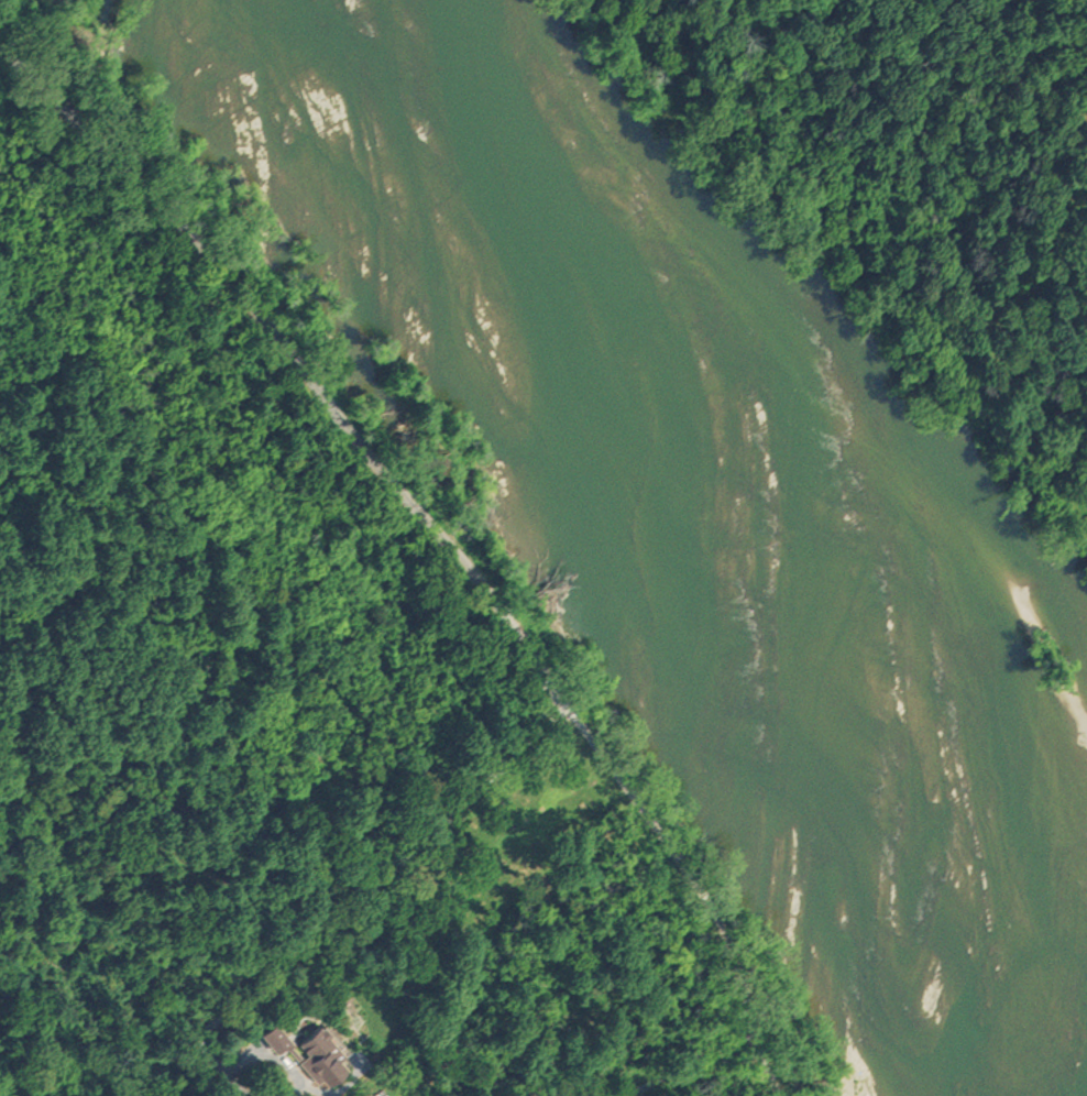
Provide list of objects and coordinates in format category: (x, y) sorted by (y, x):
road: (326, 398)
river: (754, 517)
road: (699, 885)
road: (309, 940)
building: (266, 1037)
building: (316, 1053)
road: (704, 1073)

